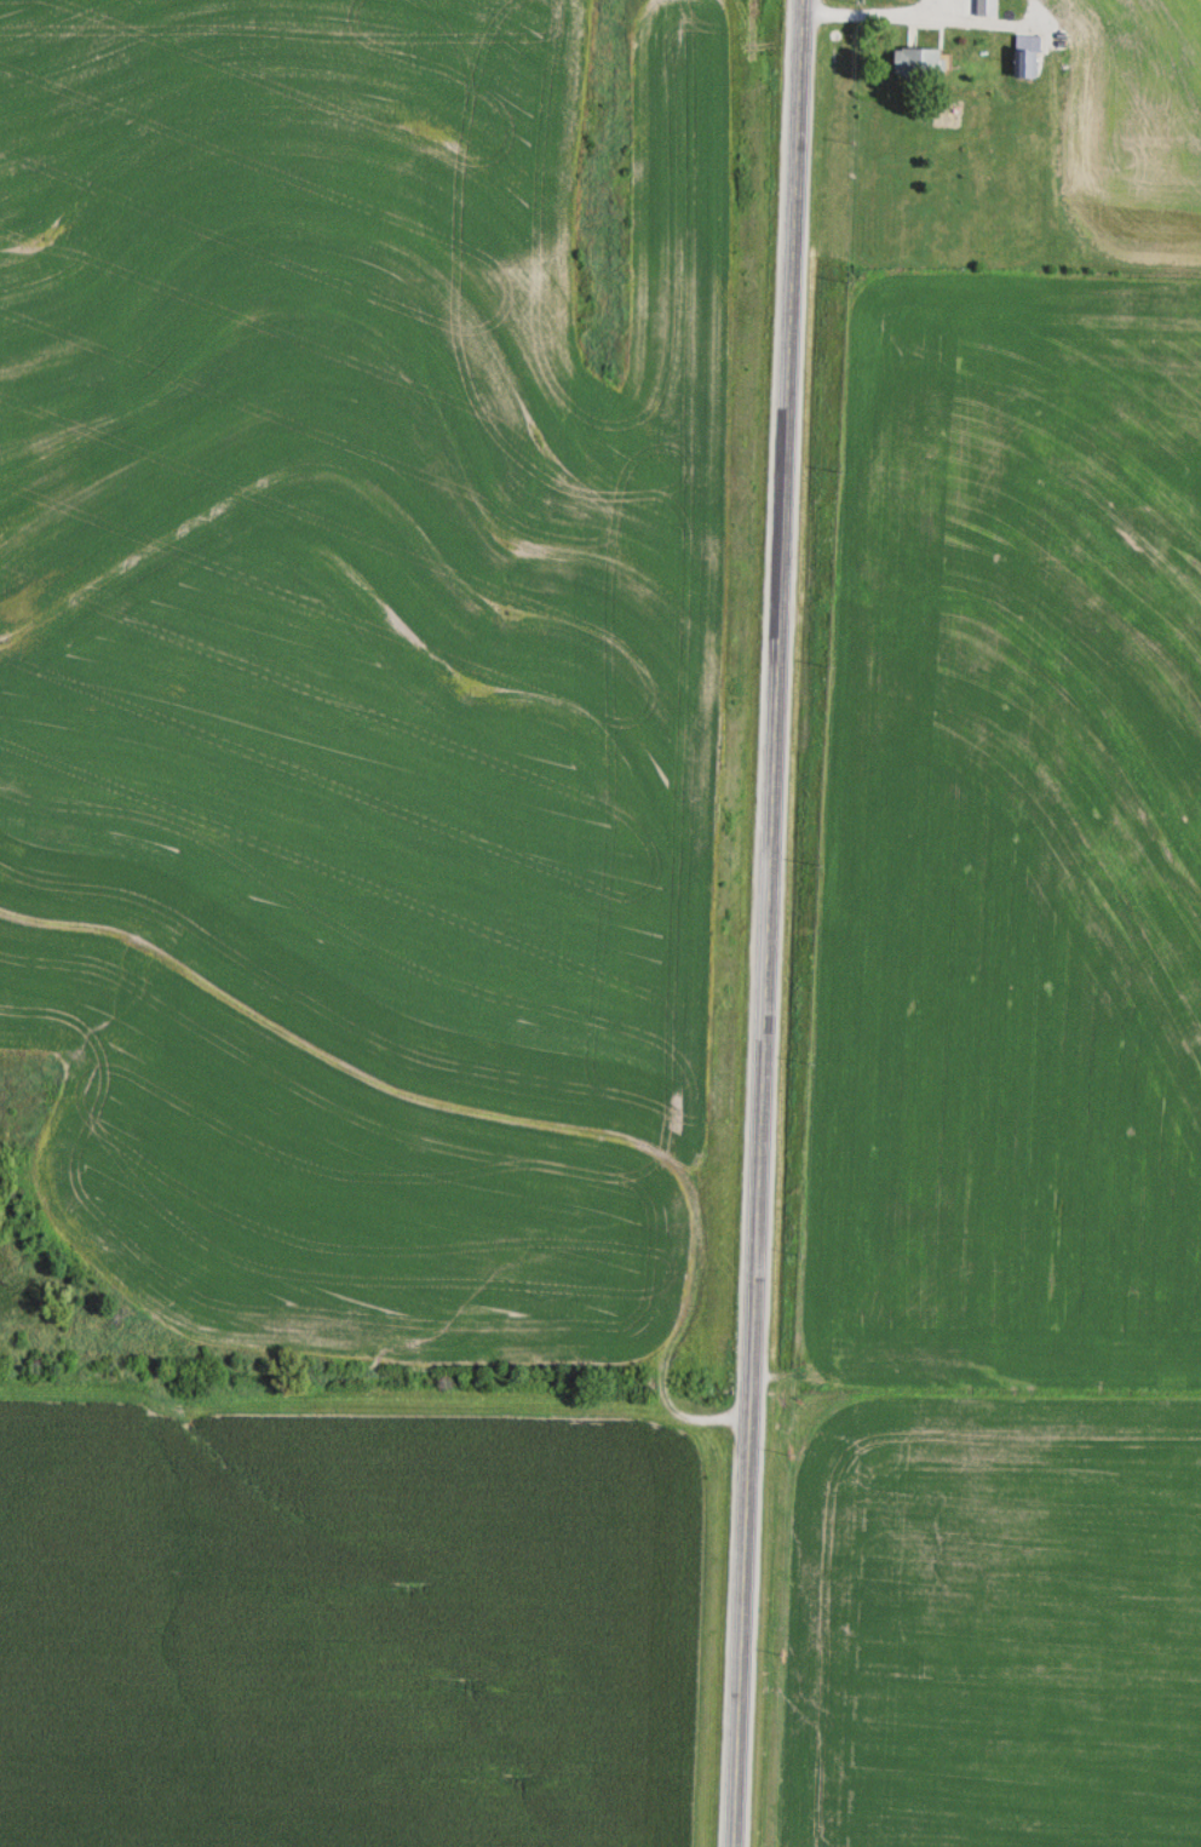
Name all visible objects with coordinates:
road: (878, 16)
building: (921, 62)
building: (1030, 64)
road: (763, 923)
road: (685, 1318)

